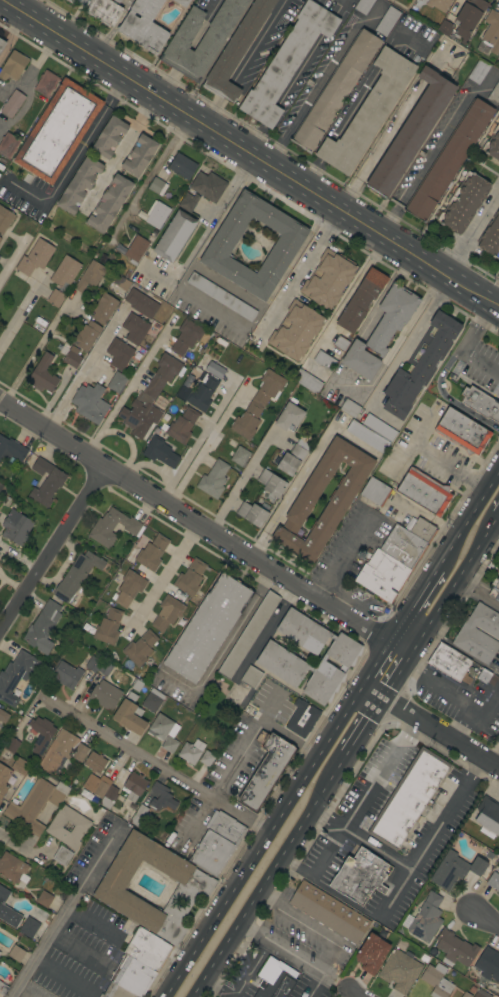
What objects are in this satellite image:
building: (118, 1)
building: (182, 2)
road: (15, 3)
building: (438, 4)
building: (363, 5)
building: (100, 9)
building: (467, 19)
building: (387, 20)
building: (143, 25)
building: (445, 28)
building: (490, 33)
building: (201, 38)
road: (255, 41)
building: (2, 43)
building: (236, 50)
building: (287, 62)
building: (13, 65)
building: (478, 71)
road: (322, 78)
building: (46, 83)
road: (224, 90)
building: (335, 90)
building: (495, 94)
building: (12, 103)
road: (212, 112)
building: (368, 112)
building: (58, 131)
building: (411, 132)
building: (109, 137)
building: (8, 144)
building: (493, 144)
road: (381, 148)
road: (119, 153)
building: (139, 155)
road: (249, 155)
road: (73, 156)
building: (449, 159)
road: (425, 164)
building: (182, 166)
building: (79, 185)
building: (157, 186)
building: (208, 186)
building: (188, 201)
building: (464, 202)
building: (109, 203)
building: (157, 214)
road: (220, 218)
building: (5, 219)
road: (469, 230)
building: (174, 235)
building: (490, 237)
building: (0, 238)
building: (286, 245)
building: (136, 249)
road: (14, 252)
building: (35, 257)
road: (299, 270)
building: (65, 271)
building: (89, 275)
building: (328, 279)
building: (121, 282)
building: (221, 296)
building: (55, 298)
road: (494, 298)
building: (361, 299)
building: (142, 302)
road: (211, 305)
building: (104, 307)
road: (498, 310)
road: (20, 312)
building: (134, 328)
building: (295, 330)
building: (381, 331)
building: (86, 335)
building: (187, 336)
building: (341, 343)
road: (409, 343)
road: (463, 346)
road: (36, 348)
building: (119, 353)
building: (70, 356)
building: (325, 360)
building: (420, 365)
road: (83, 369)
building: (215, 371)
building: (42, 375)
building: (117, 381)
building: (307, 381)
road: (126, 388)
building: (182, 392)
building: (202, 393)
road: (446, 396)
building: (150, 397)
building: (90, 402)
building: (258, 403)
building: (481, 403)
building: (350, 408)
building: (289, 416)
road: (385, 416)
building: (182, 425)
building: (379, 427)
building: (462, 431)
building: (367, 436)
road: (128, 443)
road: (413, 444)
road: (205, 446)
building: (11, 450)
building: (160, 452)
building: (239, 456)
building: (293, 457)
road: (449, 465)
road: (305, 471)
building: (213, 479)
building: (46, 481)
road: (241, 481)
building: (271, 482)
building: (1, 485)
building: (345, 491)
building: (375, 491)
building: (424, 491)
building: (262, 504)
road: (469, 512)
building: (252, 513)
building: (112, 526)
building: (16, 527)
building: (423, 529)
road: (496, 530)
road: (206, 531)
road: (53, 552)
building: (152, 552)
road: (341, 555)
building: (391, 563)
building: (493, 567)
building: (76, 577)
building: (190, 577)
road: (159, 578)
building: (496, 584)
building: (129, 588)
road: (455, 590)
road: (480, 593)
building: (494, 593)
road: (340, 595)
road: (414, 602)
building: (167, 612)
building: (108, 626)
building: (42, 627)
building: (207, 628)
building: (479, 633)
building: (248, 634)
building: (139, 648)
building: (278, 658)
building: (93, 662)
building: (450, 662)
road: (374, 664)
building: (105, 667)
road: (402, 673)
building: (15, 675)
building: (66, 675)
building: (484, 675)
building: (251, 676)
building: (276, 692)
building: (105, 695)
road: (458, 695)
building: (152, 700)
building: (130, 714)
building: (3, 716)
building: (302, 719)
road: (371, 721)
road: (429, 726)
building: (162, 727)
building: (40, 733)
building: (11, 744)
building: (169, 744)
building: (191, 751)
building: (62, 754)
road: (237, 755)
building: (206, 758)
building: (94, 762)
road: (155, 764)
building: (20, 766)
building: (266, 769)
building: (3, 779)
building: (130, 785)
building: (101, 789)
building: (161, 797)
road: (363, 797)
building: (408, 798)
building: (35, 804)
building: (115, 810)
building: (127, 813)
building: (140, 815)
building: (488, 816)
building: (81, 826)
building: (225, 826)
road: (261, 840)
road: (363, 841)
road: (20, 851)
building: (212, 851)
building: (62, 855)
building: (12, 868)
building: (454, 869)
road: (274, 876)
building: (359, 876)
building: (494, 880)
road: (402, 885)
building: (195, 886)
building: (497, 893)
building: (44, 899)
building: (7, 910)
road: (62, 912)
building: (329, 912)
building: (426, 918)
road: (482, 918)
building: (29, 927)
road: (256, 932)
road: (332, 945)
building: (455, 947)
building: (147, 949)
building: (371, 952)
building: (15, 953)
building: (409, 953)
building: (424, 958)
building: (488, 964)
building: (399, 970)
building: (132, 975)
building: (436, 980)
road: (243, 981)
building: (480, 982)
building: (275, 984)
building: (3, 988)
building: (471, 989)
building: (116, 991)
road: (354, 992)
building: (481, 993)
building: (466, 994)
road: (15, 995)

